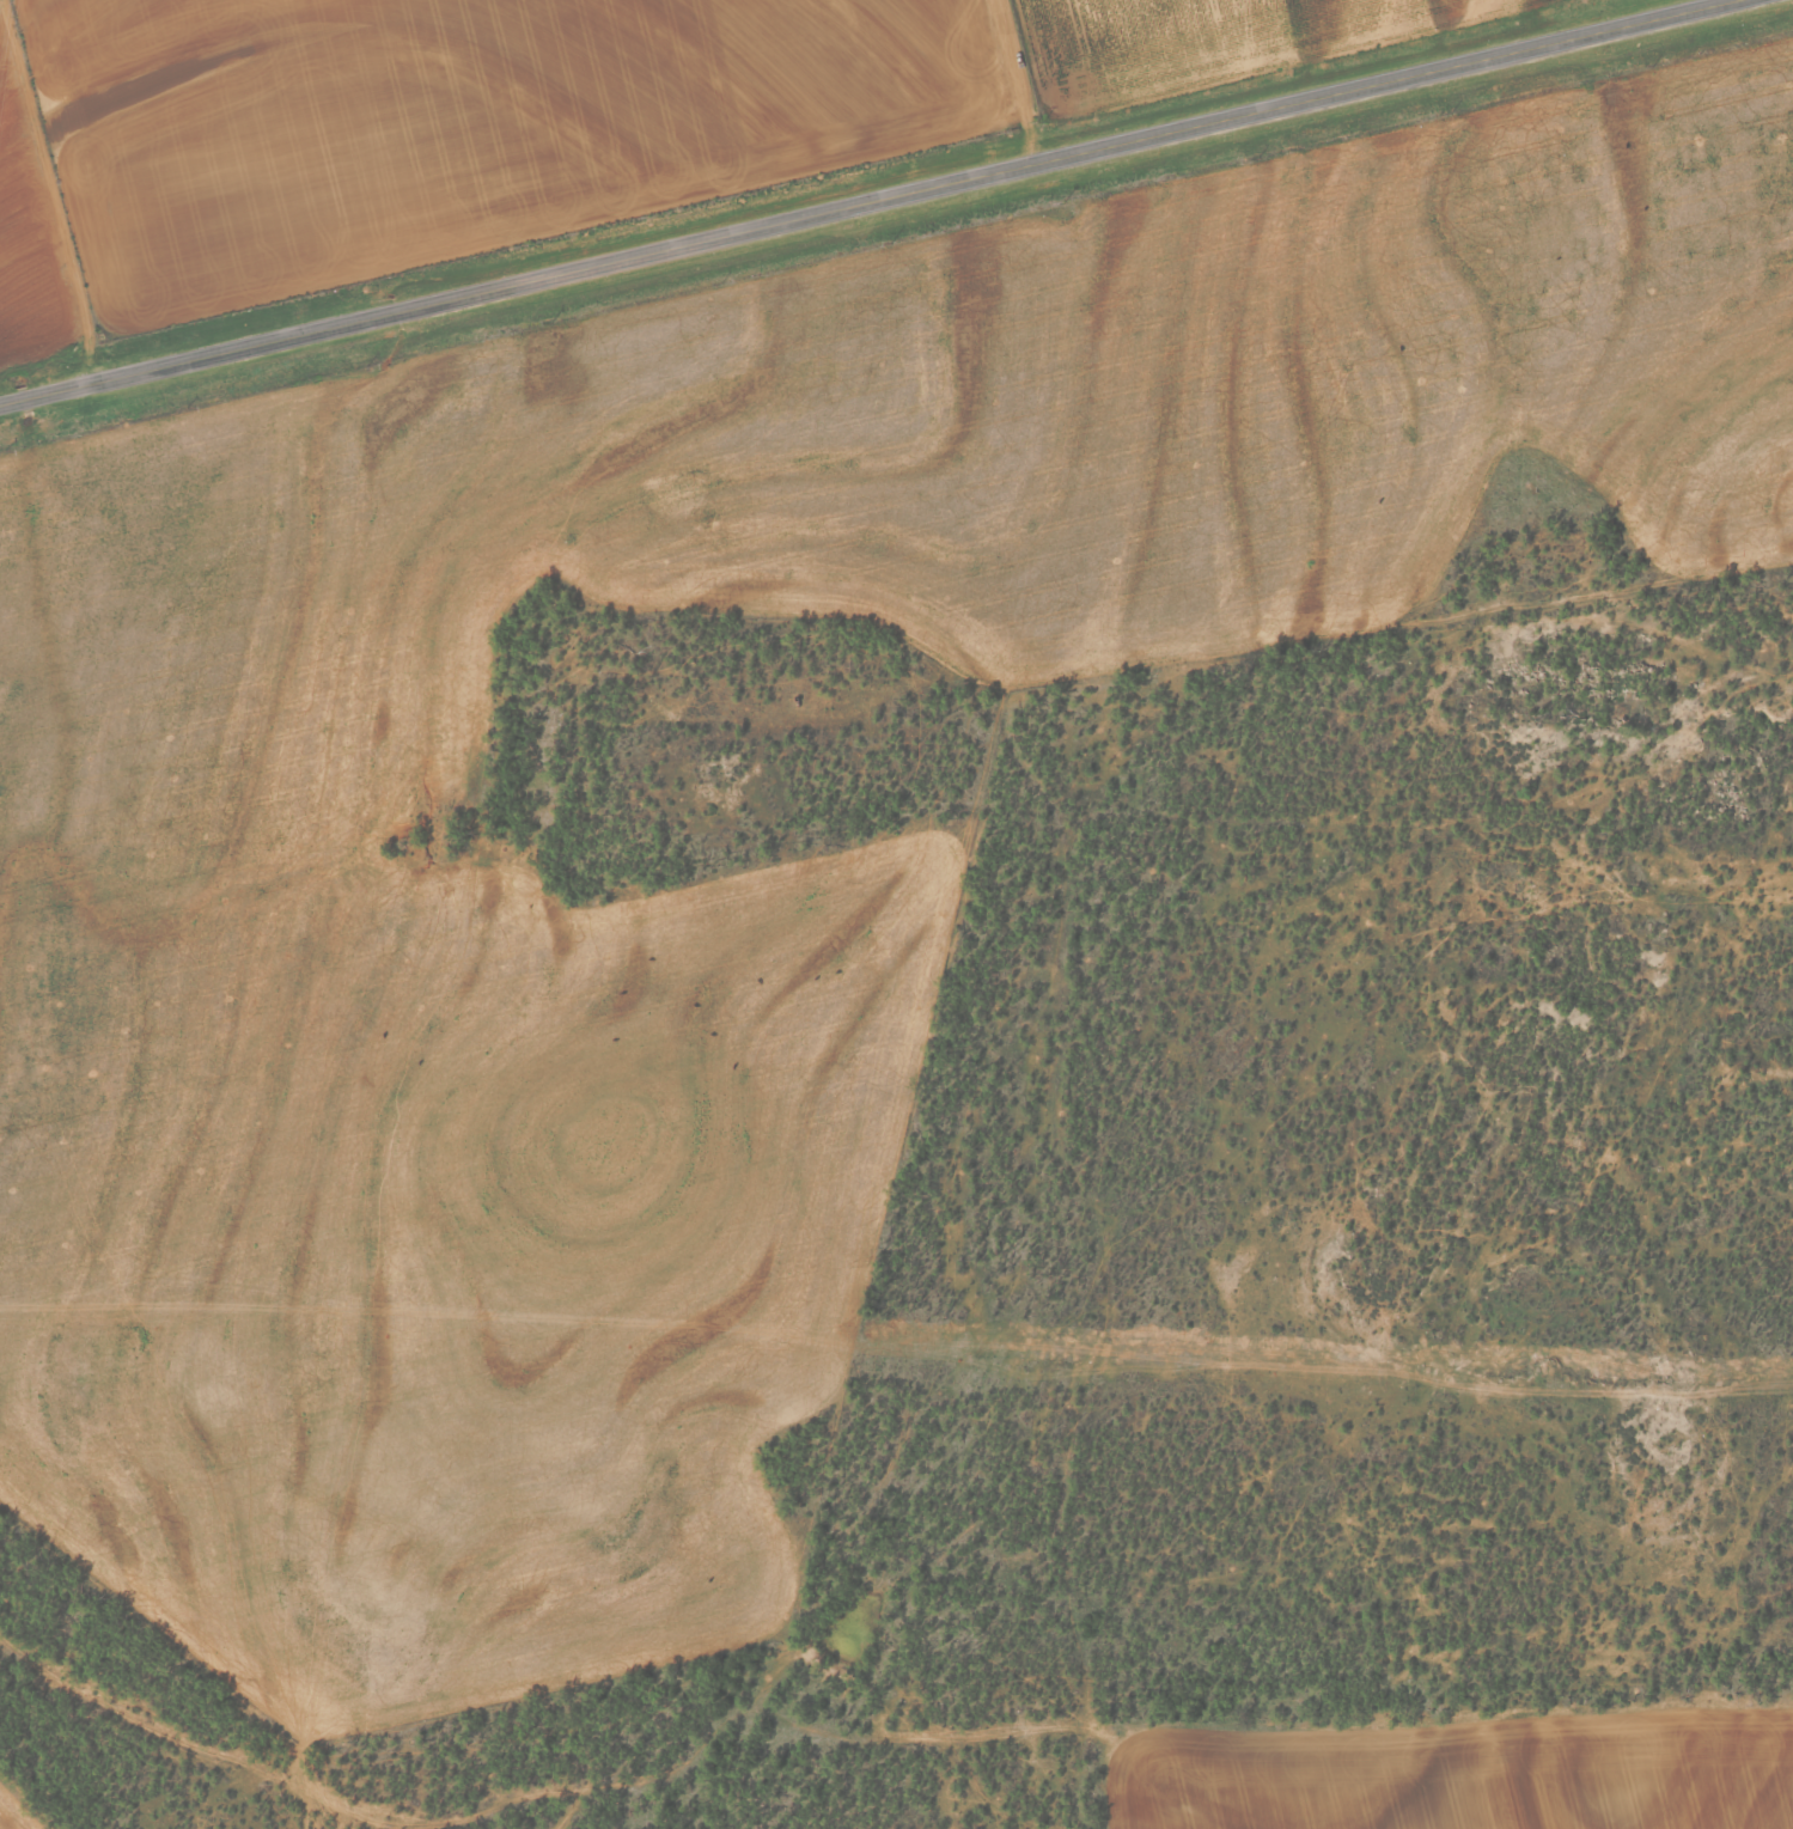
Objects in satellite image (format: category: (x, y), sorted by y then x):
road: (919, 184)
road: (59, 191)
road: (51, 395)

